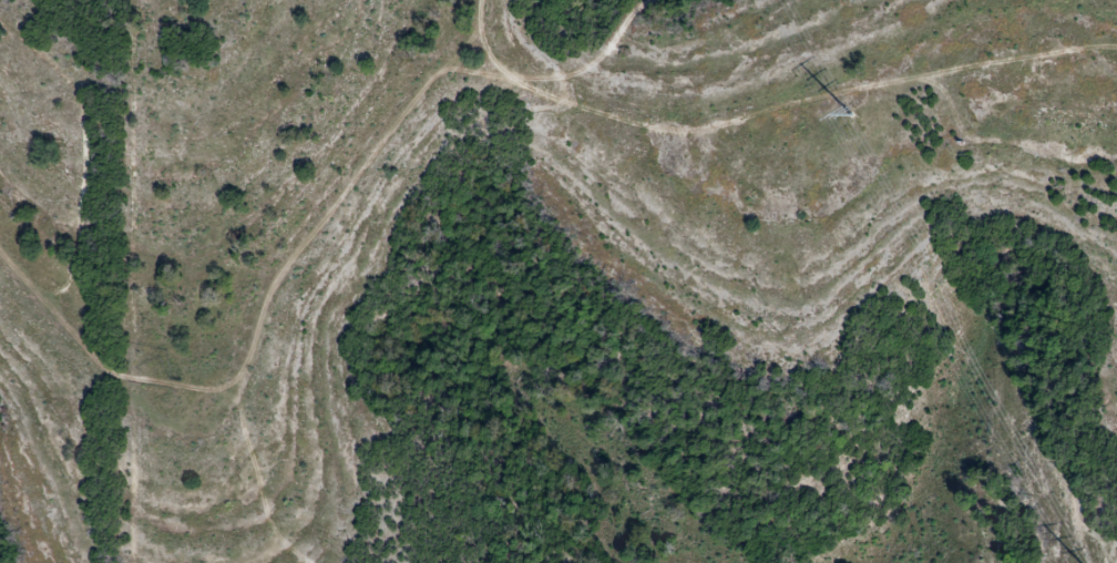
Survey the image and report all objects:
power tower: (853, 115)

